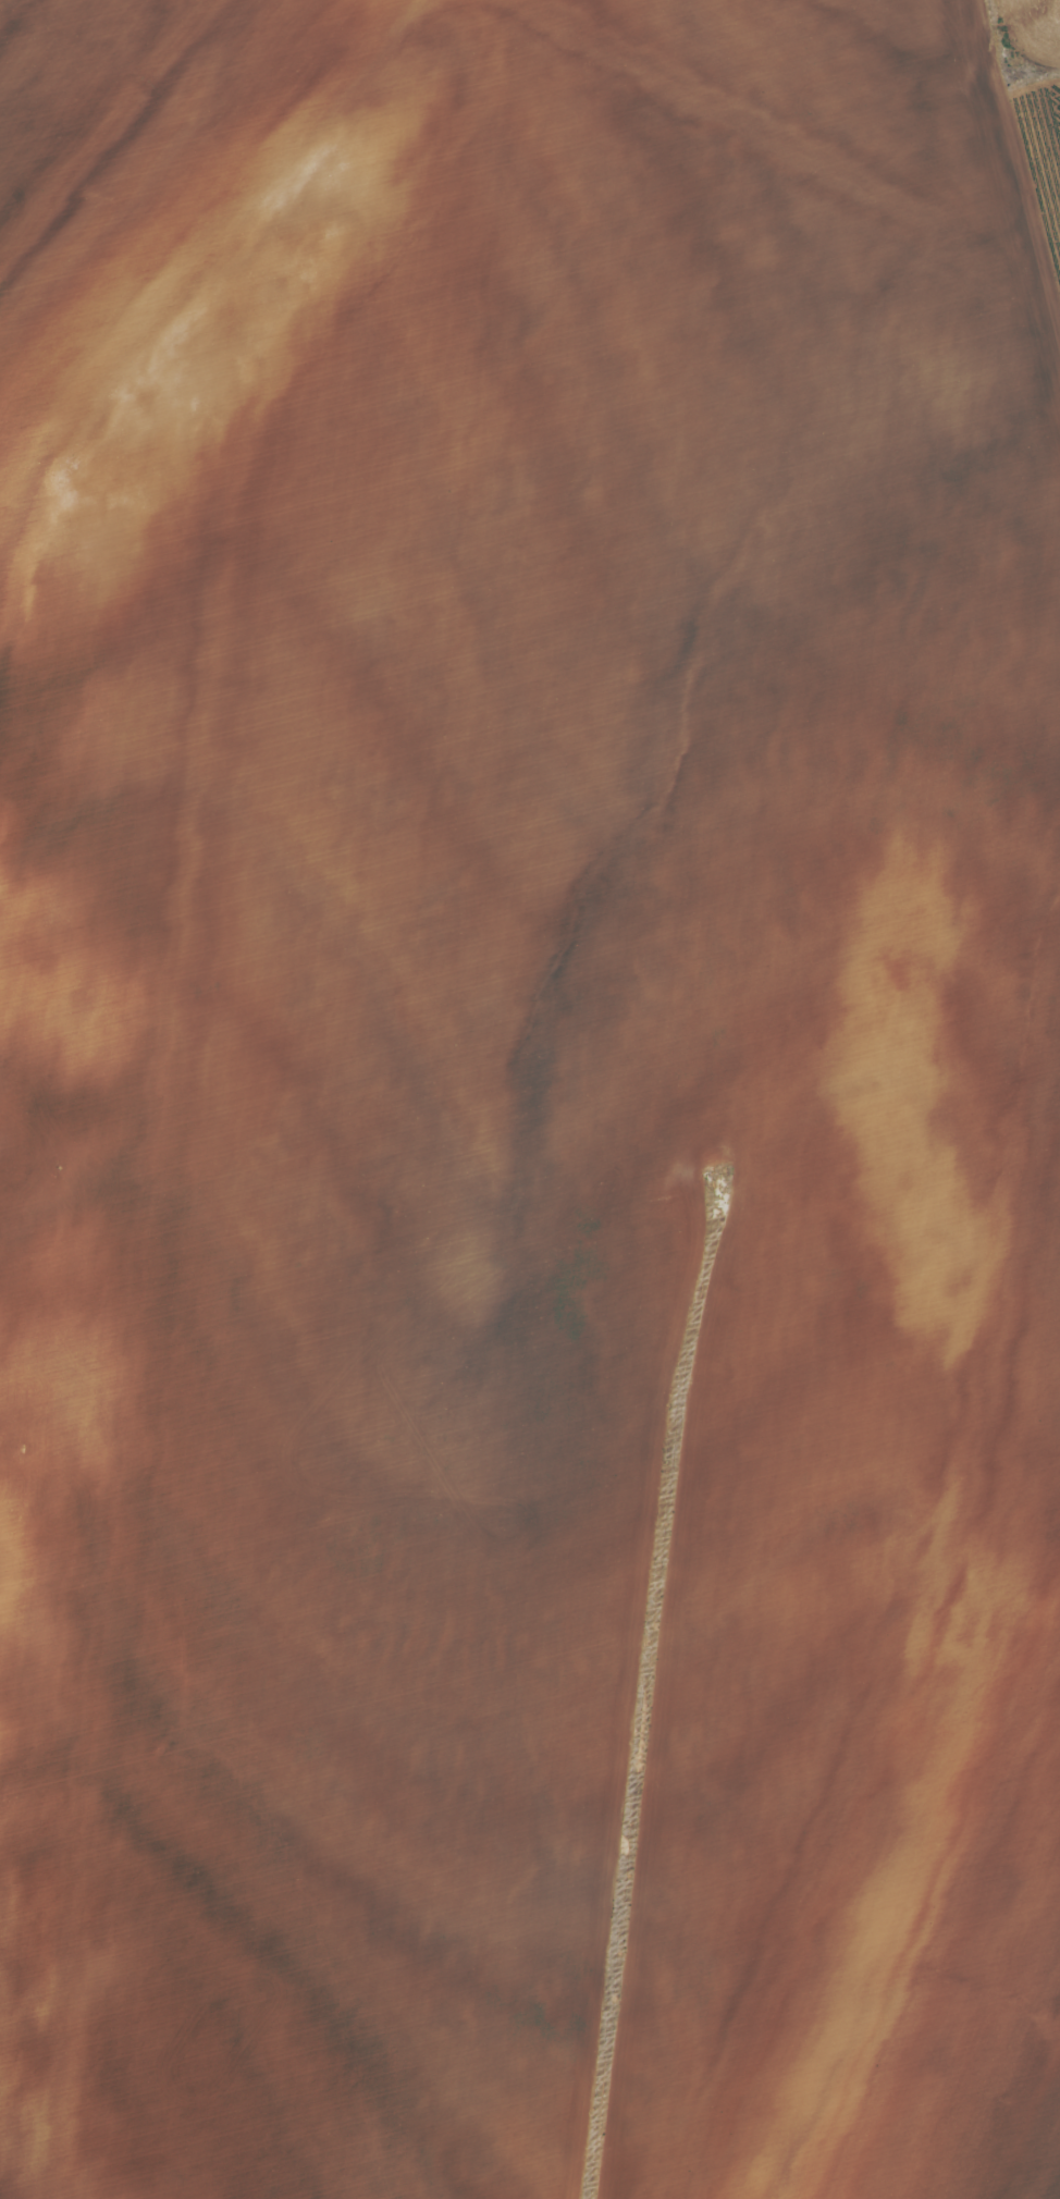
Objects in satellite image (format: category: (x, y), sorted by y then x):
road: (1026, 97)

